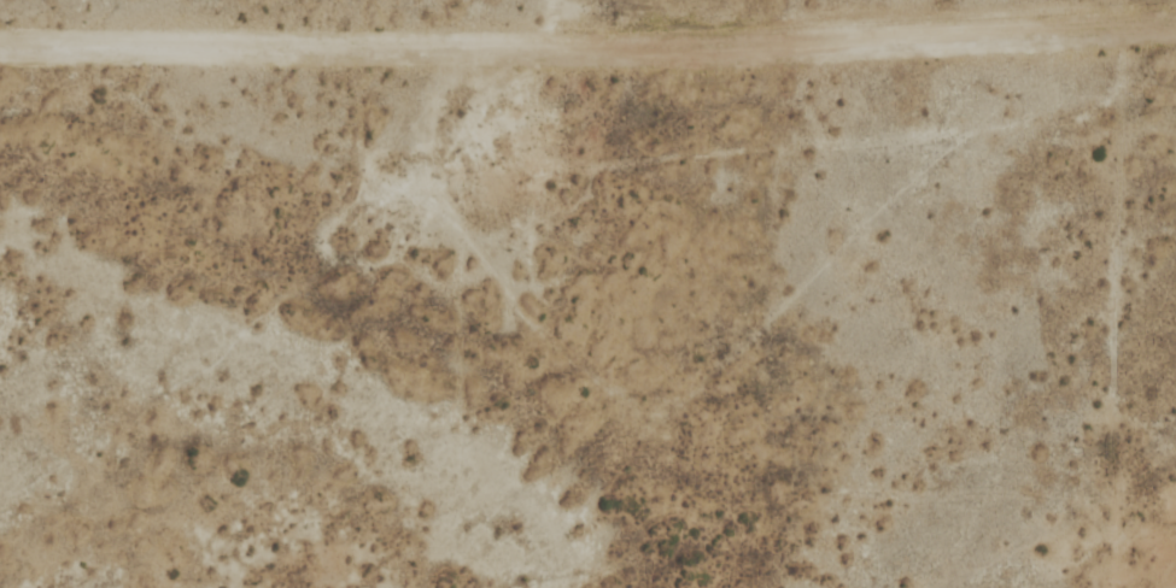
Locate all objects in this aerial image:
road: (1090, 293)

